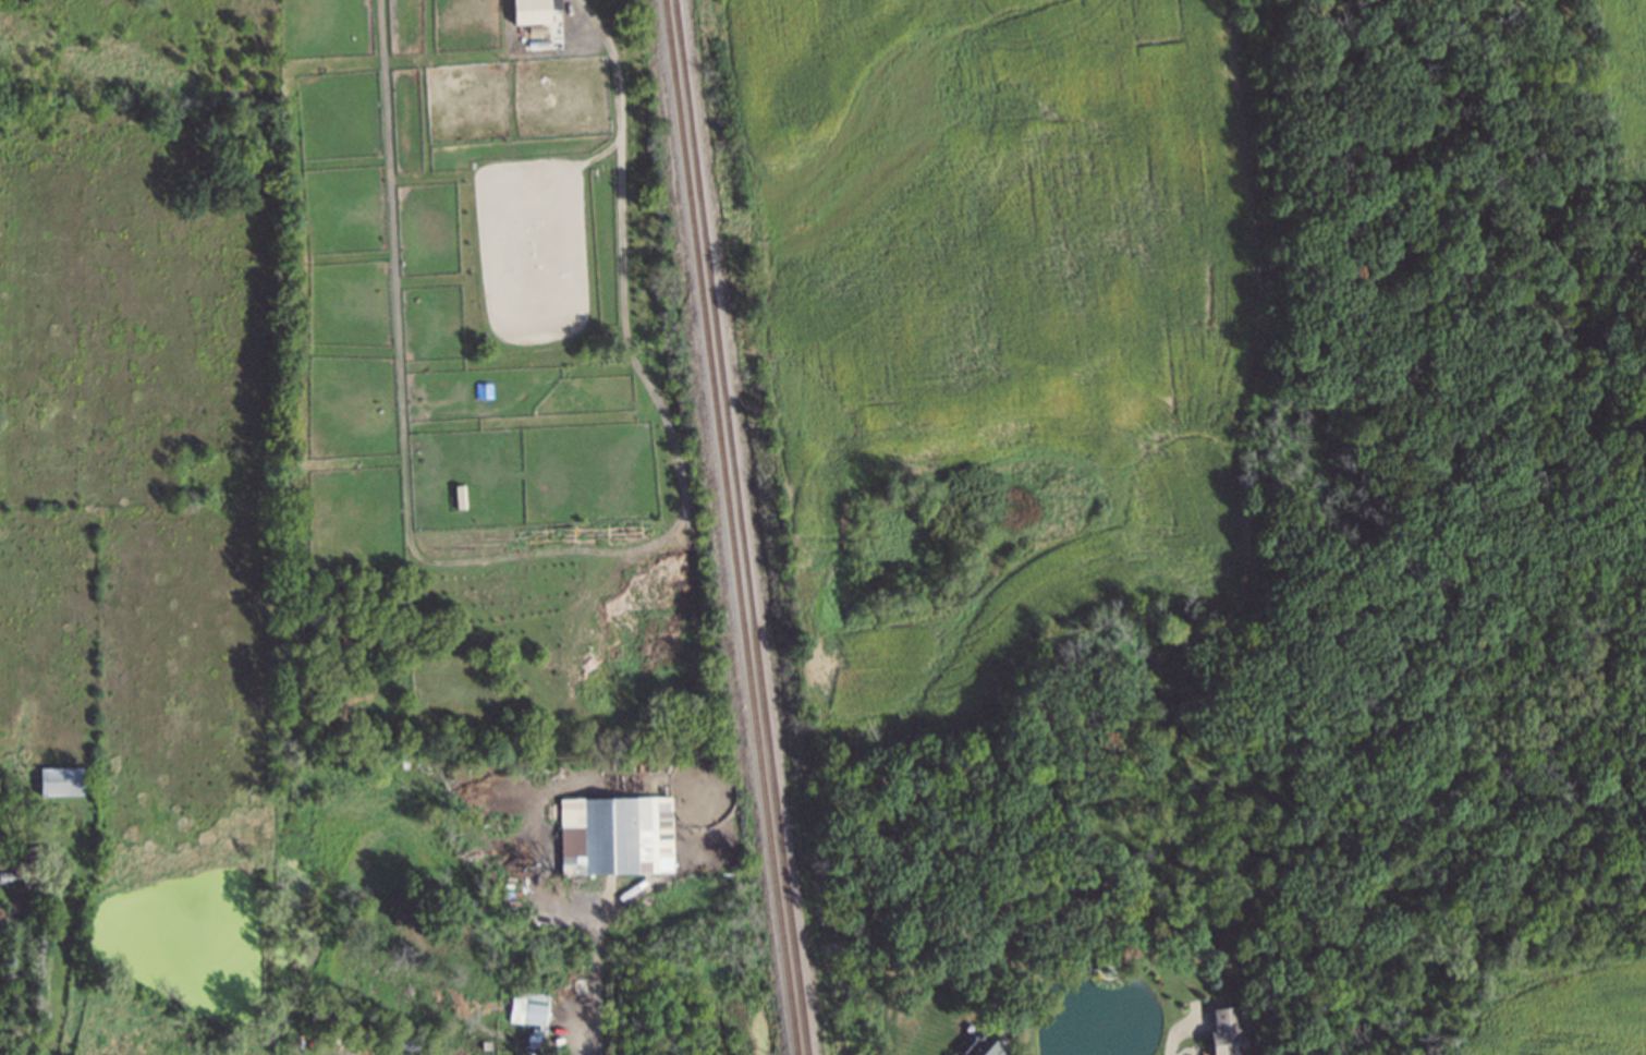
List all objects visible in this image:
building: (533, 11)
building: (576, 13)
crop: (1633, 71)
crop: (131, 293)
crop: (1010, 303)
building: (462, 497)
railway: (731, 526)
railway: (743, 526)
crop: (48, 639)
crop: (183, 686)
building: (62, 781)
building: (622, 836)
road: (597, 991)
road: (19, 992)
building: (531, 1008)
building: (1230, 1033)
building: (986, 1045)

